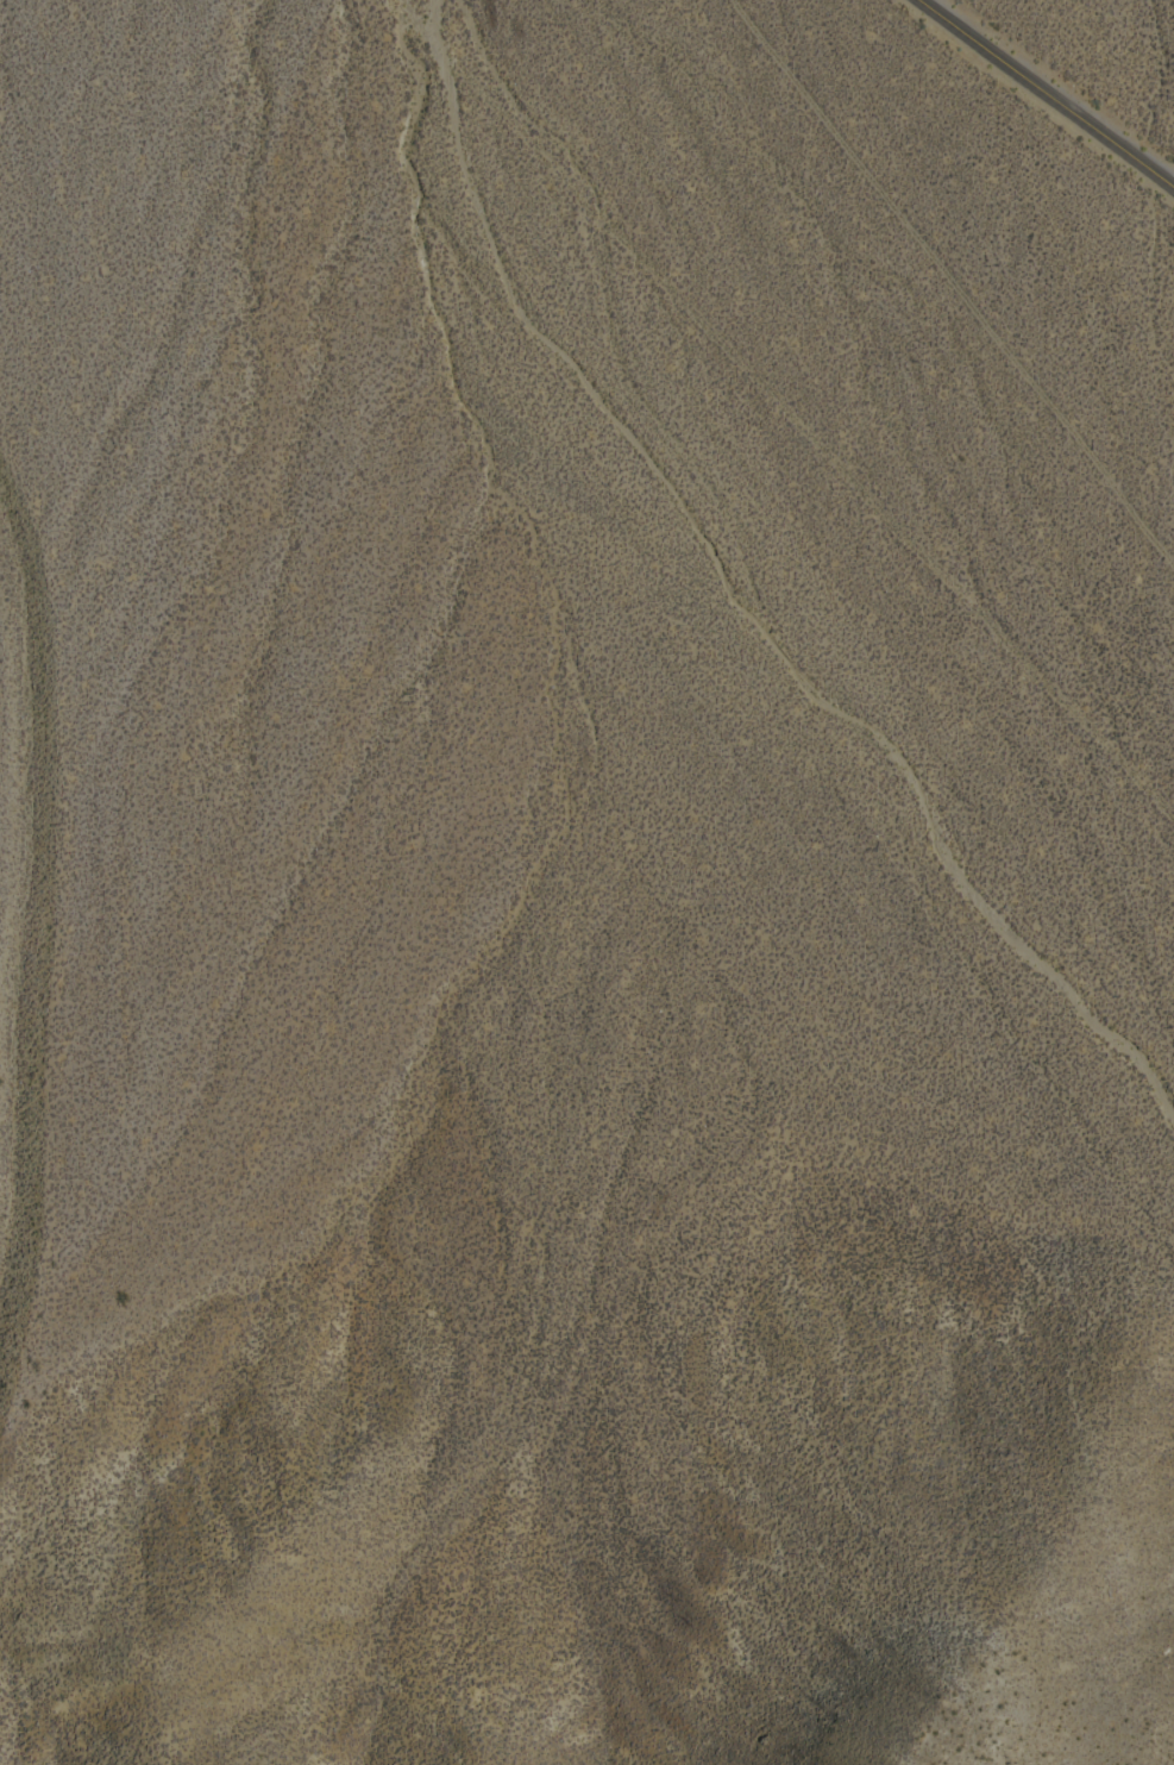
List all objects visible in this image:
road: (1049, 92)
road: (954, 283)

